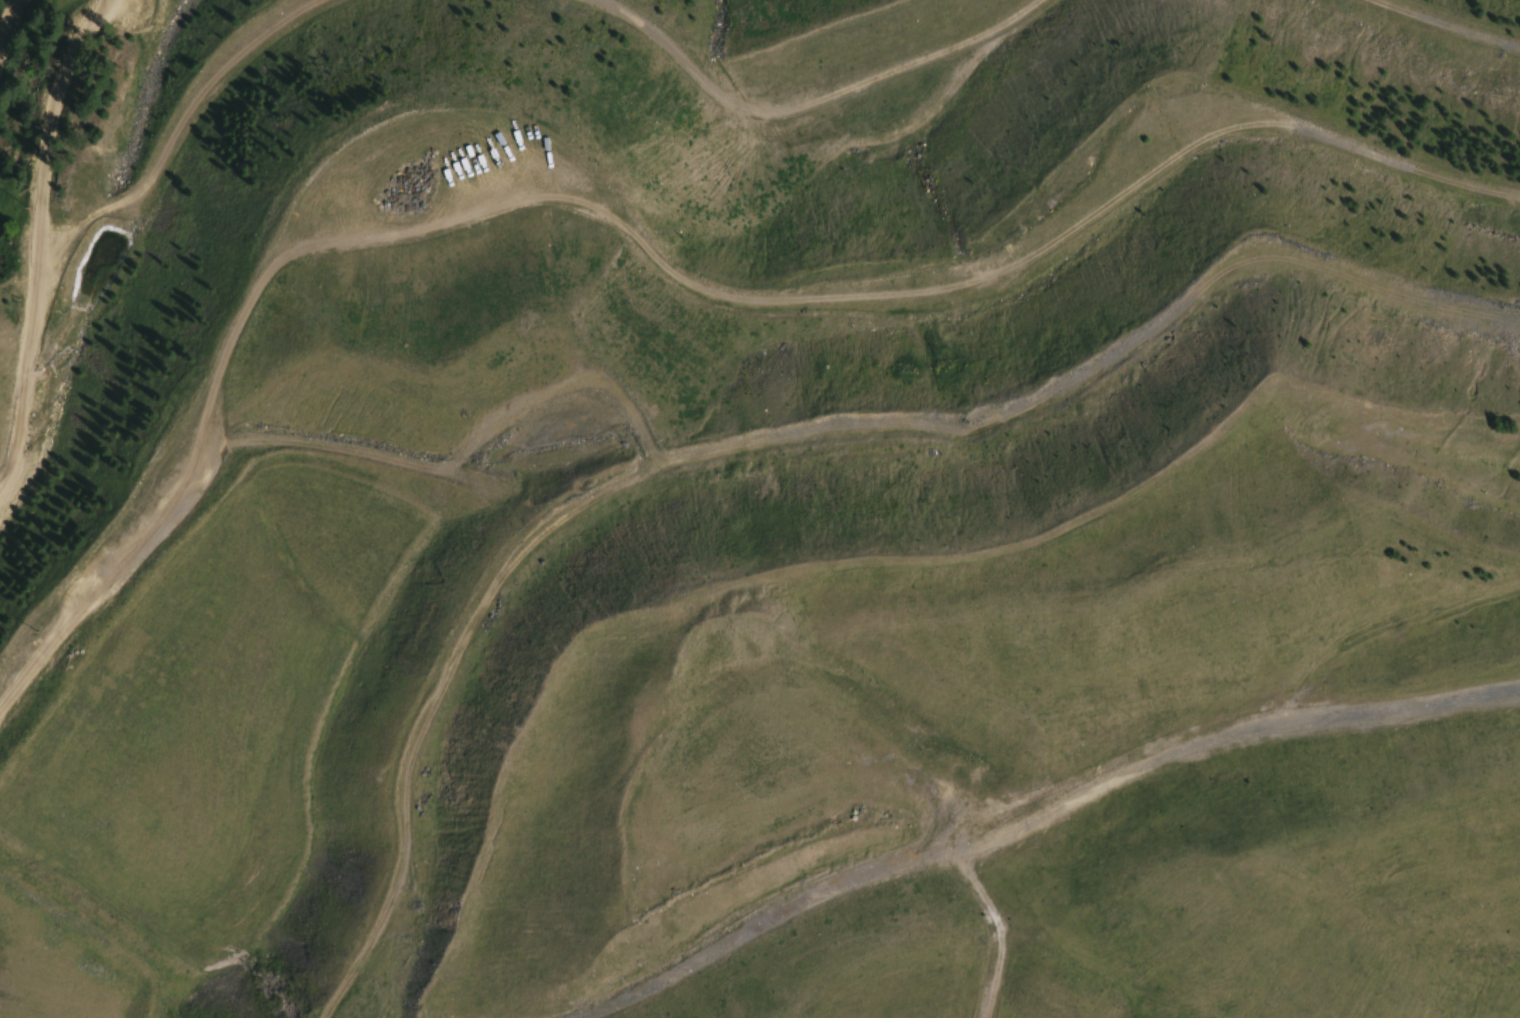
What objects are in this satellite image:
quarry: (247, 735)

